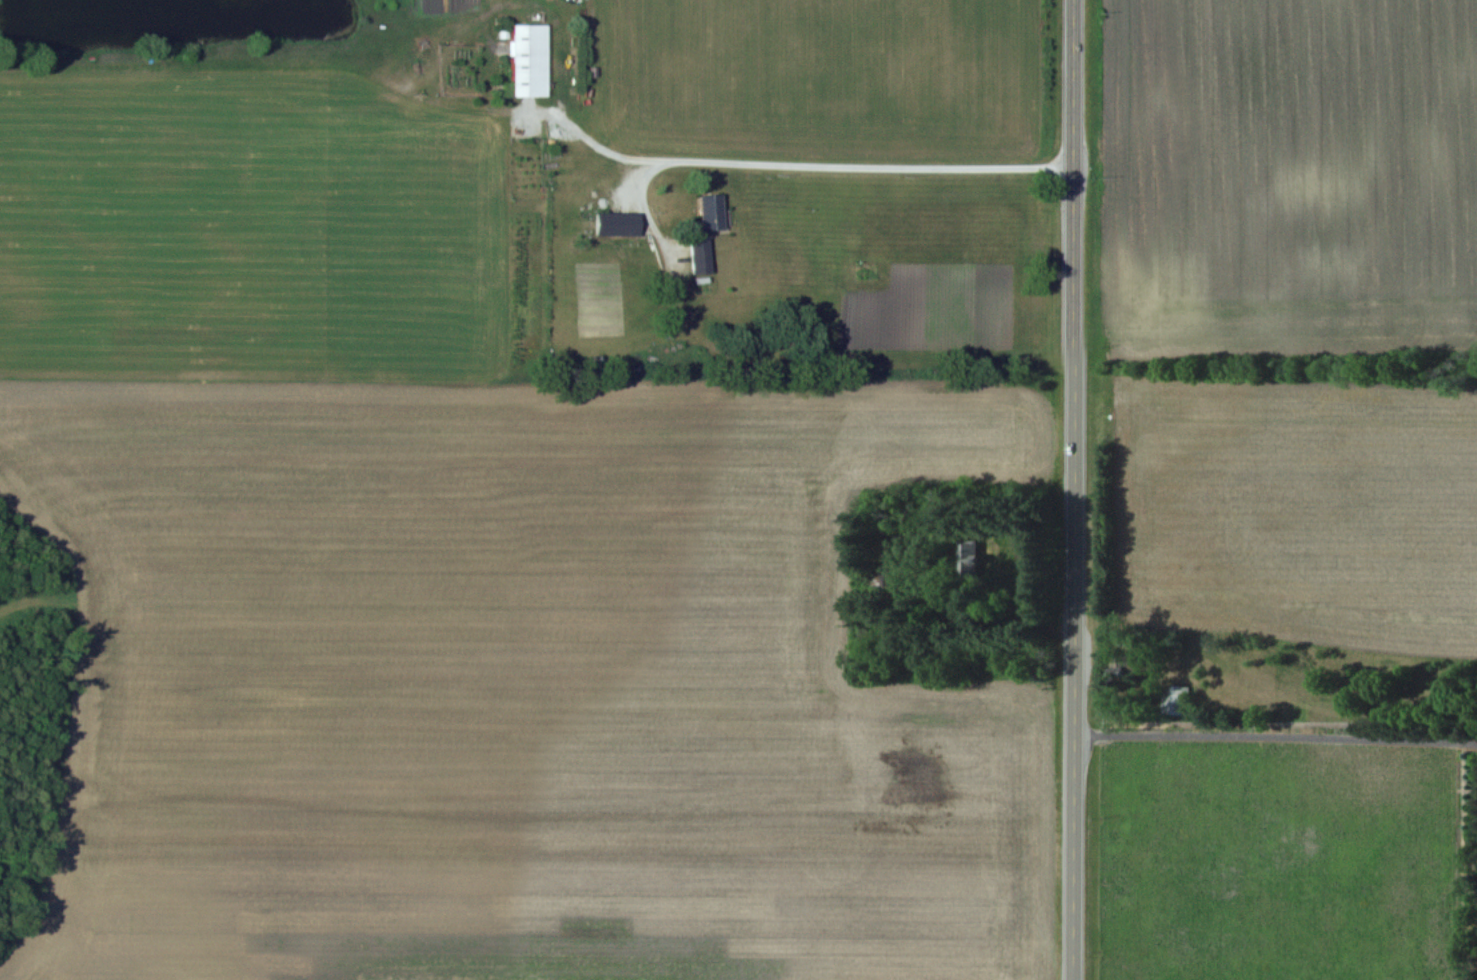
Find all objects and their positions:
building: (528, 59)
road: (807, 162)
building: (712, 212)
building: (617, 223)
building: (700, 255)
road: (1065, 490)
building: (970, 558)
building: (1119, 669)
building: (1175, 700)
road: (1271, 736)

